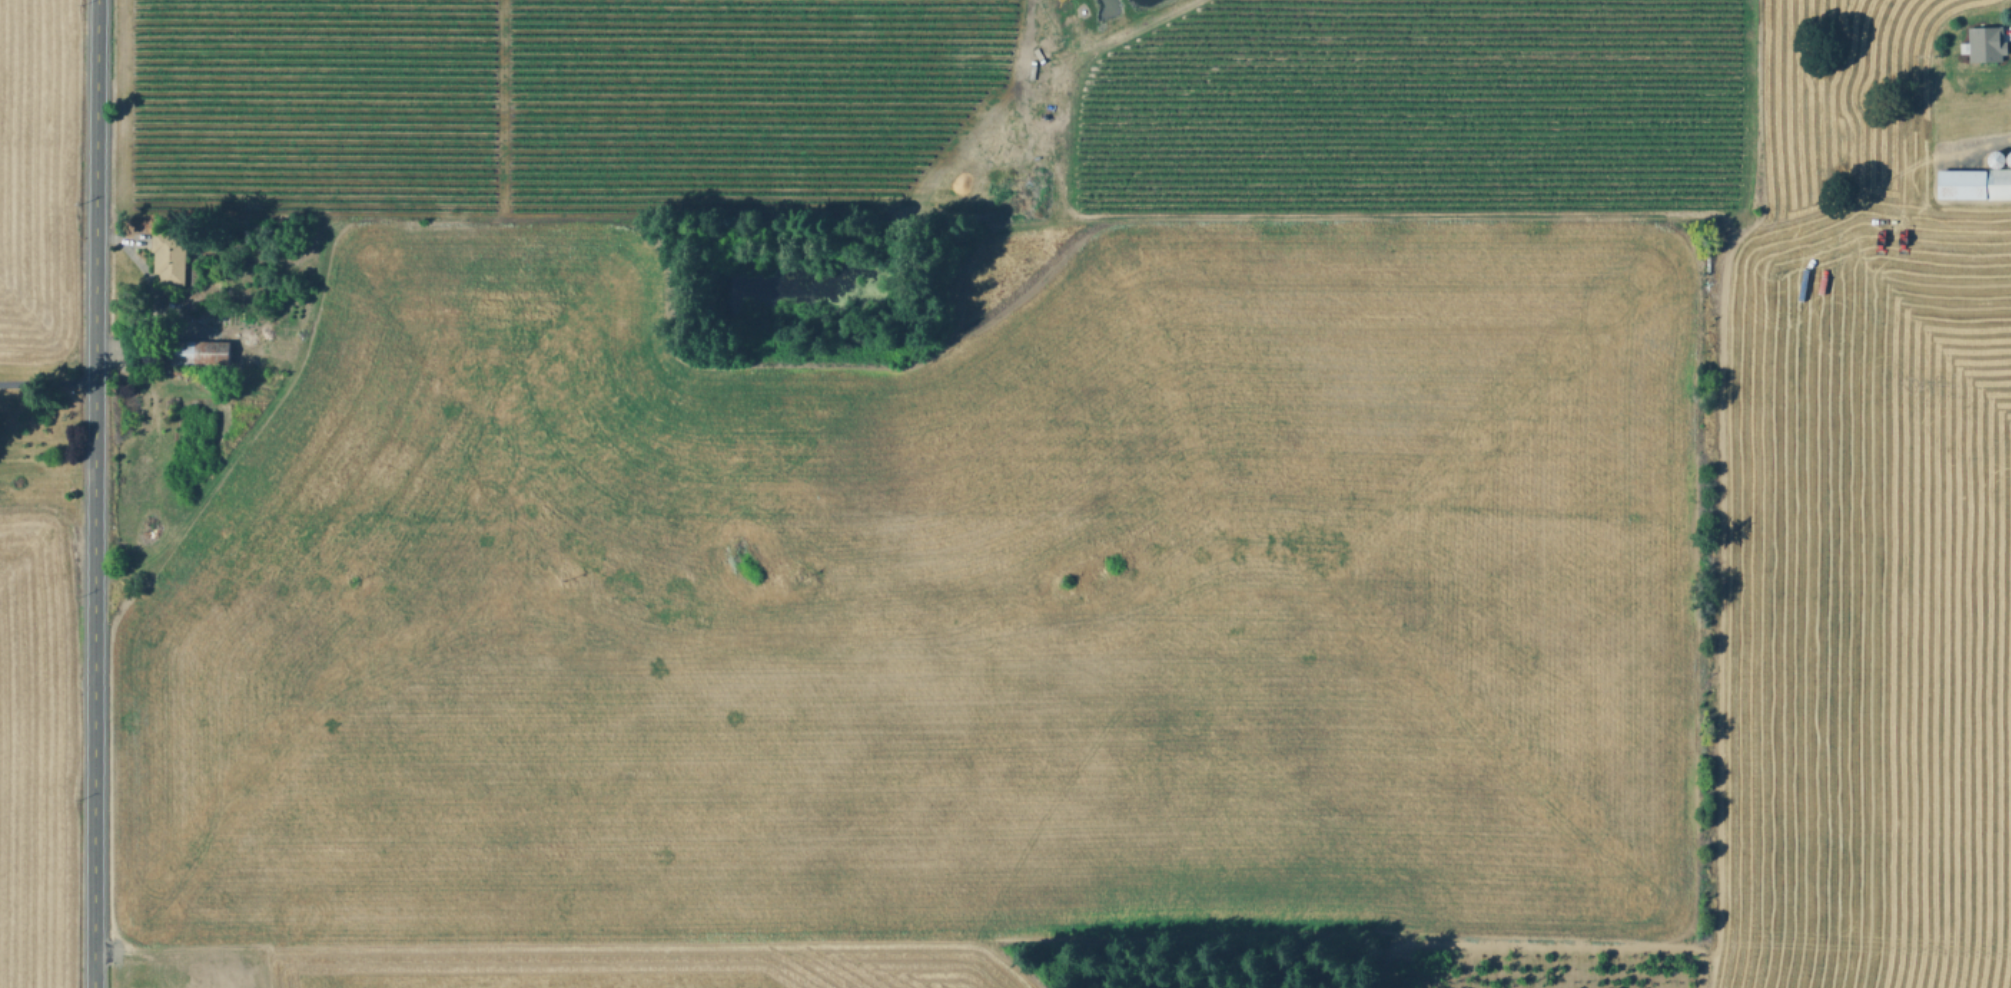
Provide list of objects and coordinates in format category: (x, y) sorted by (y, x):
road: (1114, 35)
road: (1021, 77)
building: (1993, 160)
silo: (1993, 160)
building: (2007, 160)
silo: (2007, 160)
building: (1962, 184)
building: (2001, 184)
crop: (37, 186)
building: (172, 256)
building: (201, 352)
road: (48, 381)
crop: (938, 470)
road: (95, 493)
crop: (1862, 603)
crop: (37, 740)

